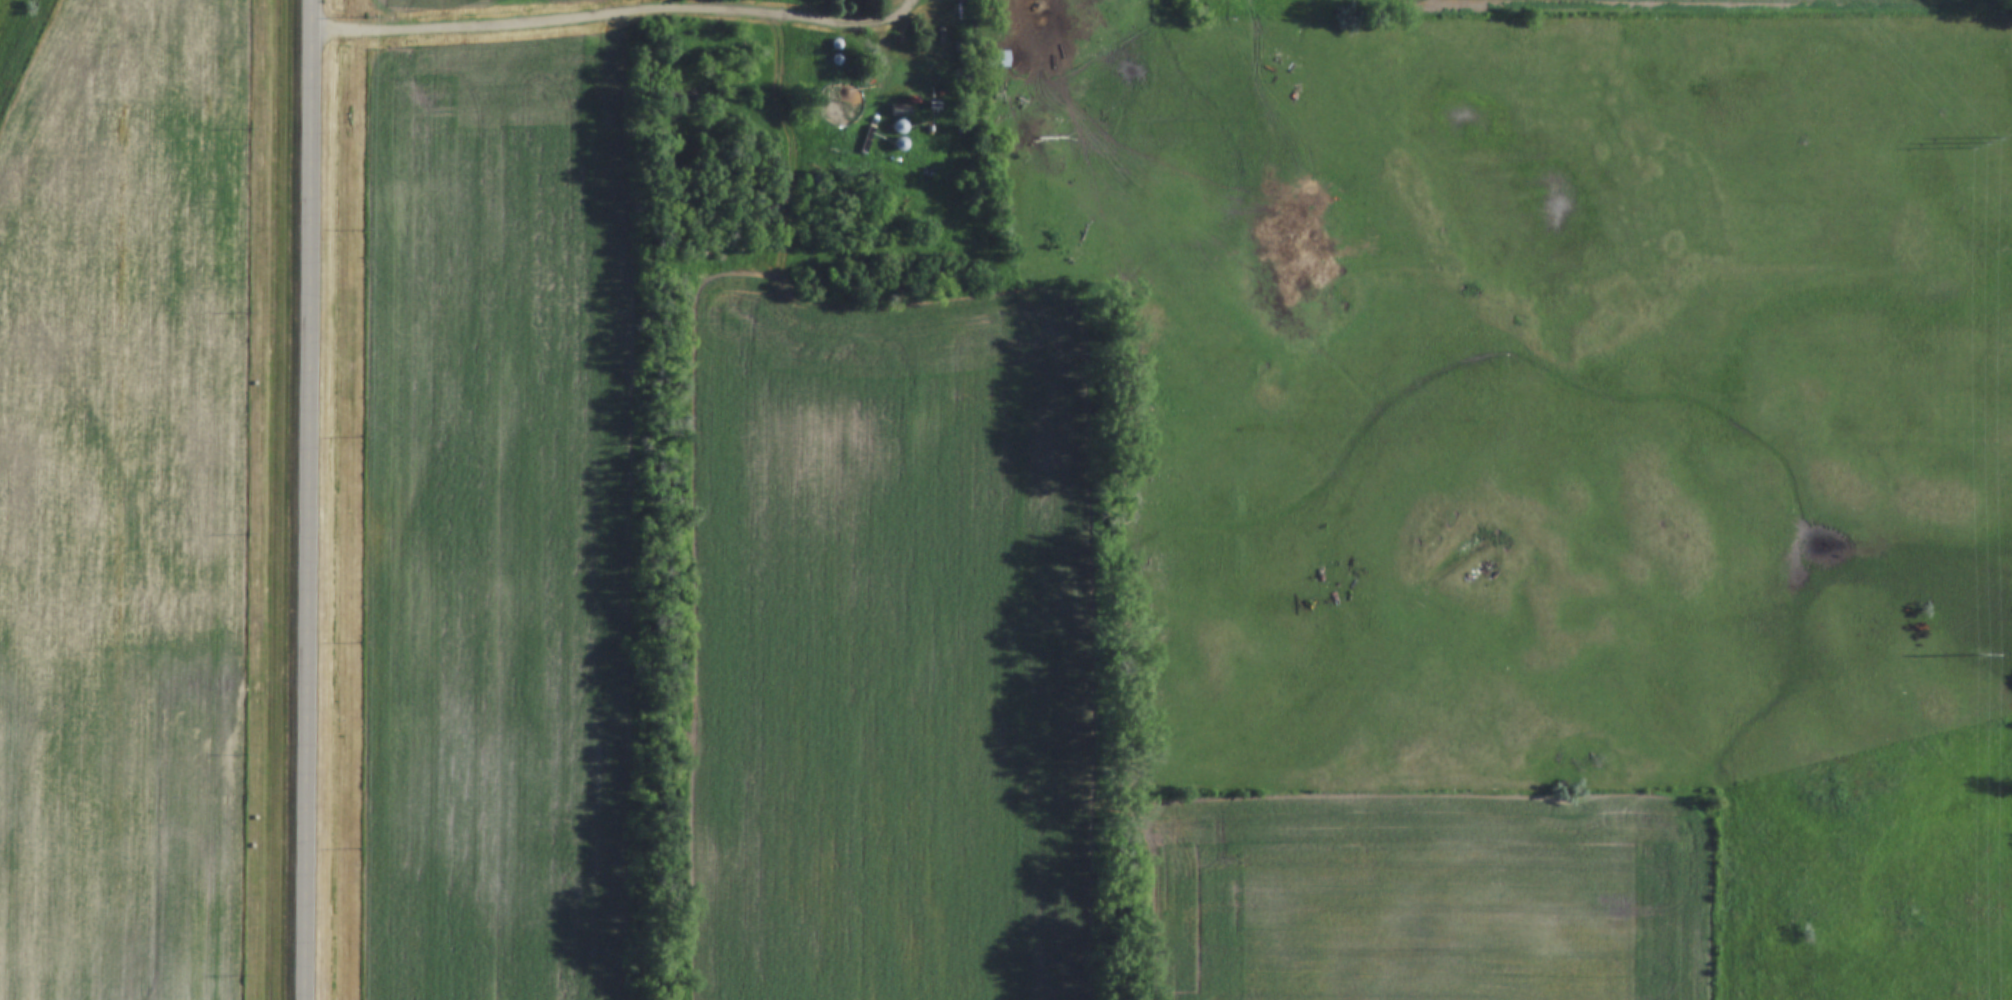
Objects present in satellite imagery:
road: (573, 18)
road: (863, 20)
building: (999, 58)
building: (900, 126)
power tower: (1981, 142)
road: (312, 499)
power tower: (1978, 654)

